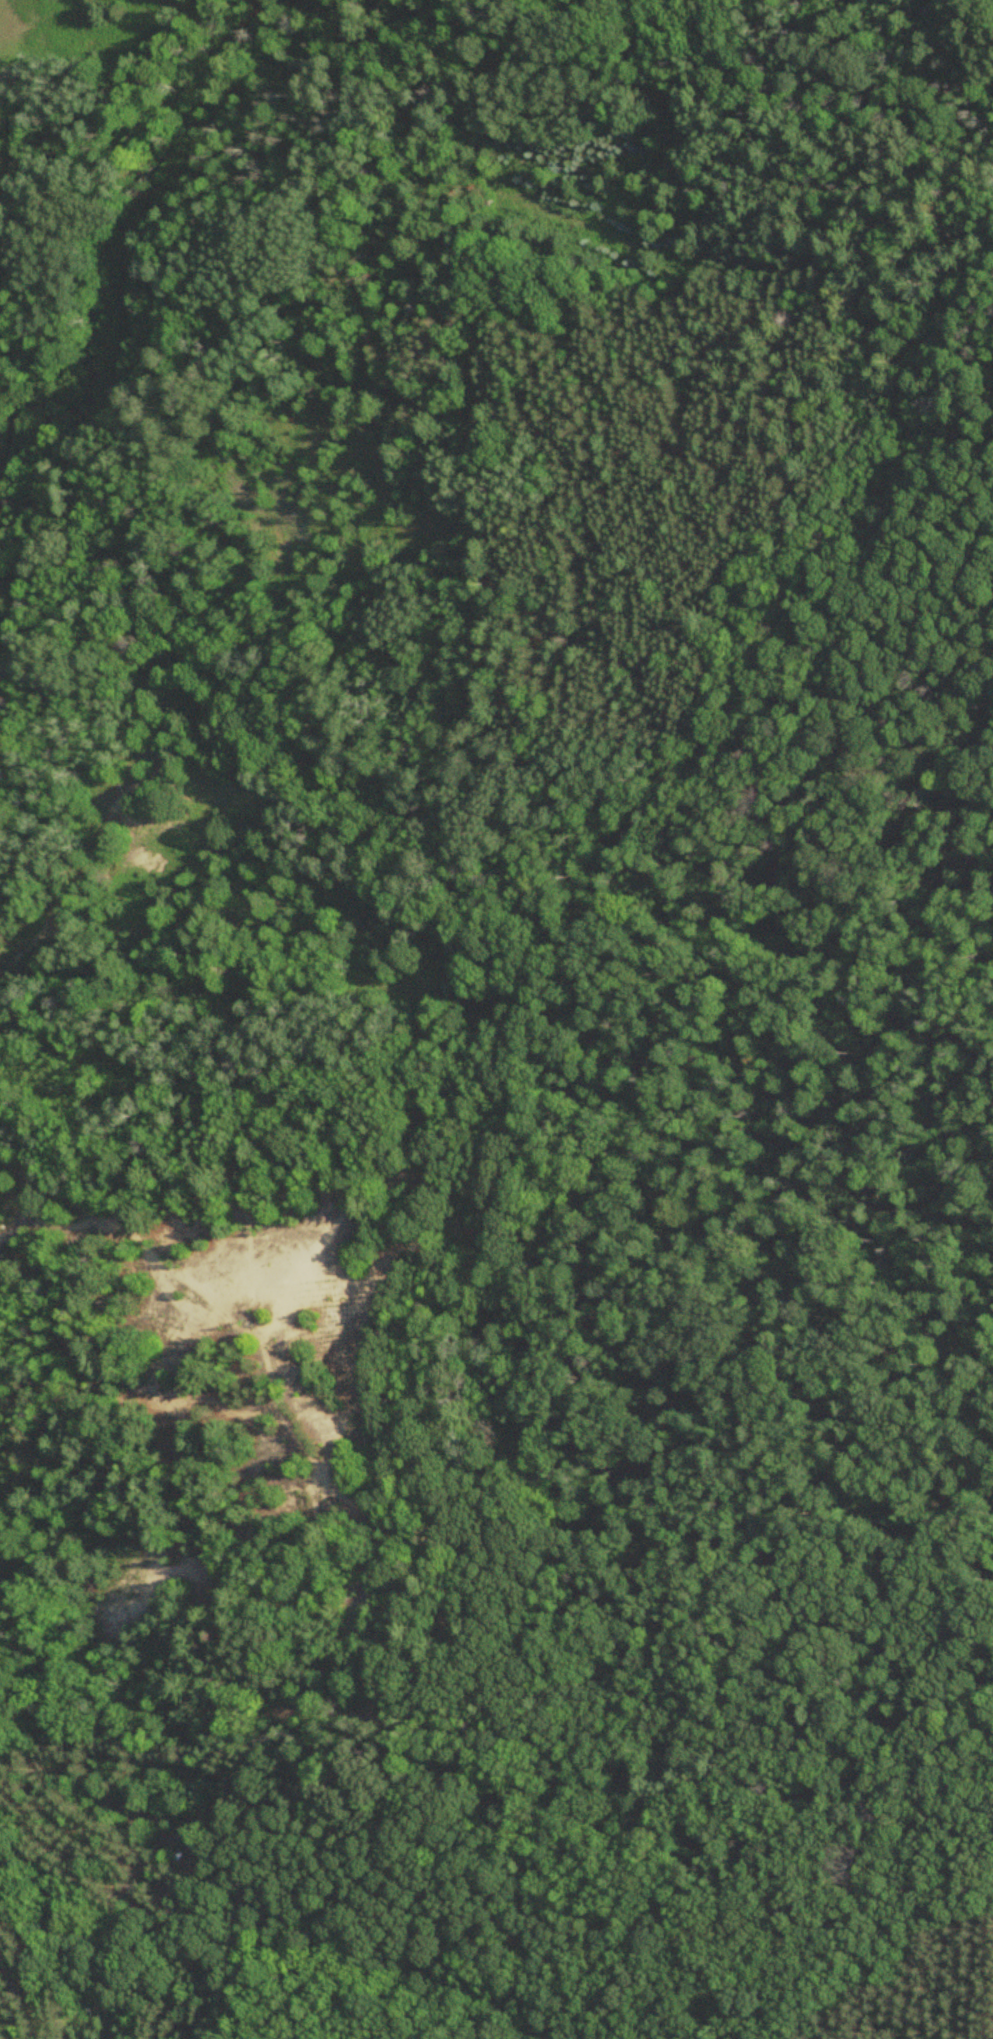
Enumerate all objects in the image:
road: (496, 1727)

